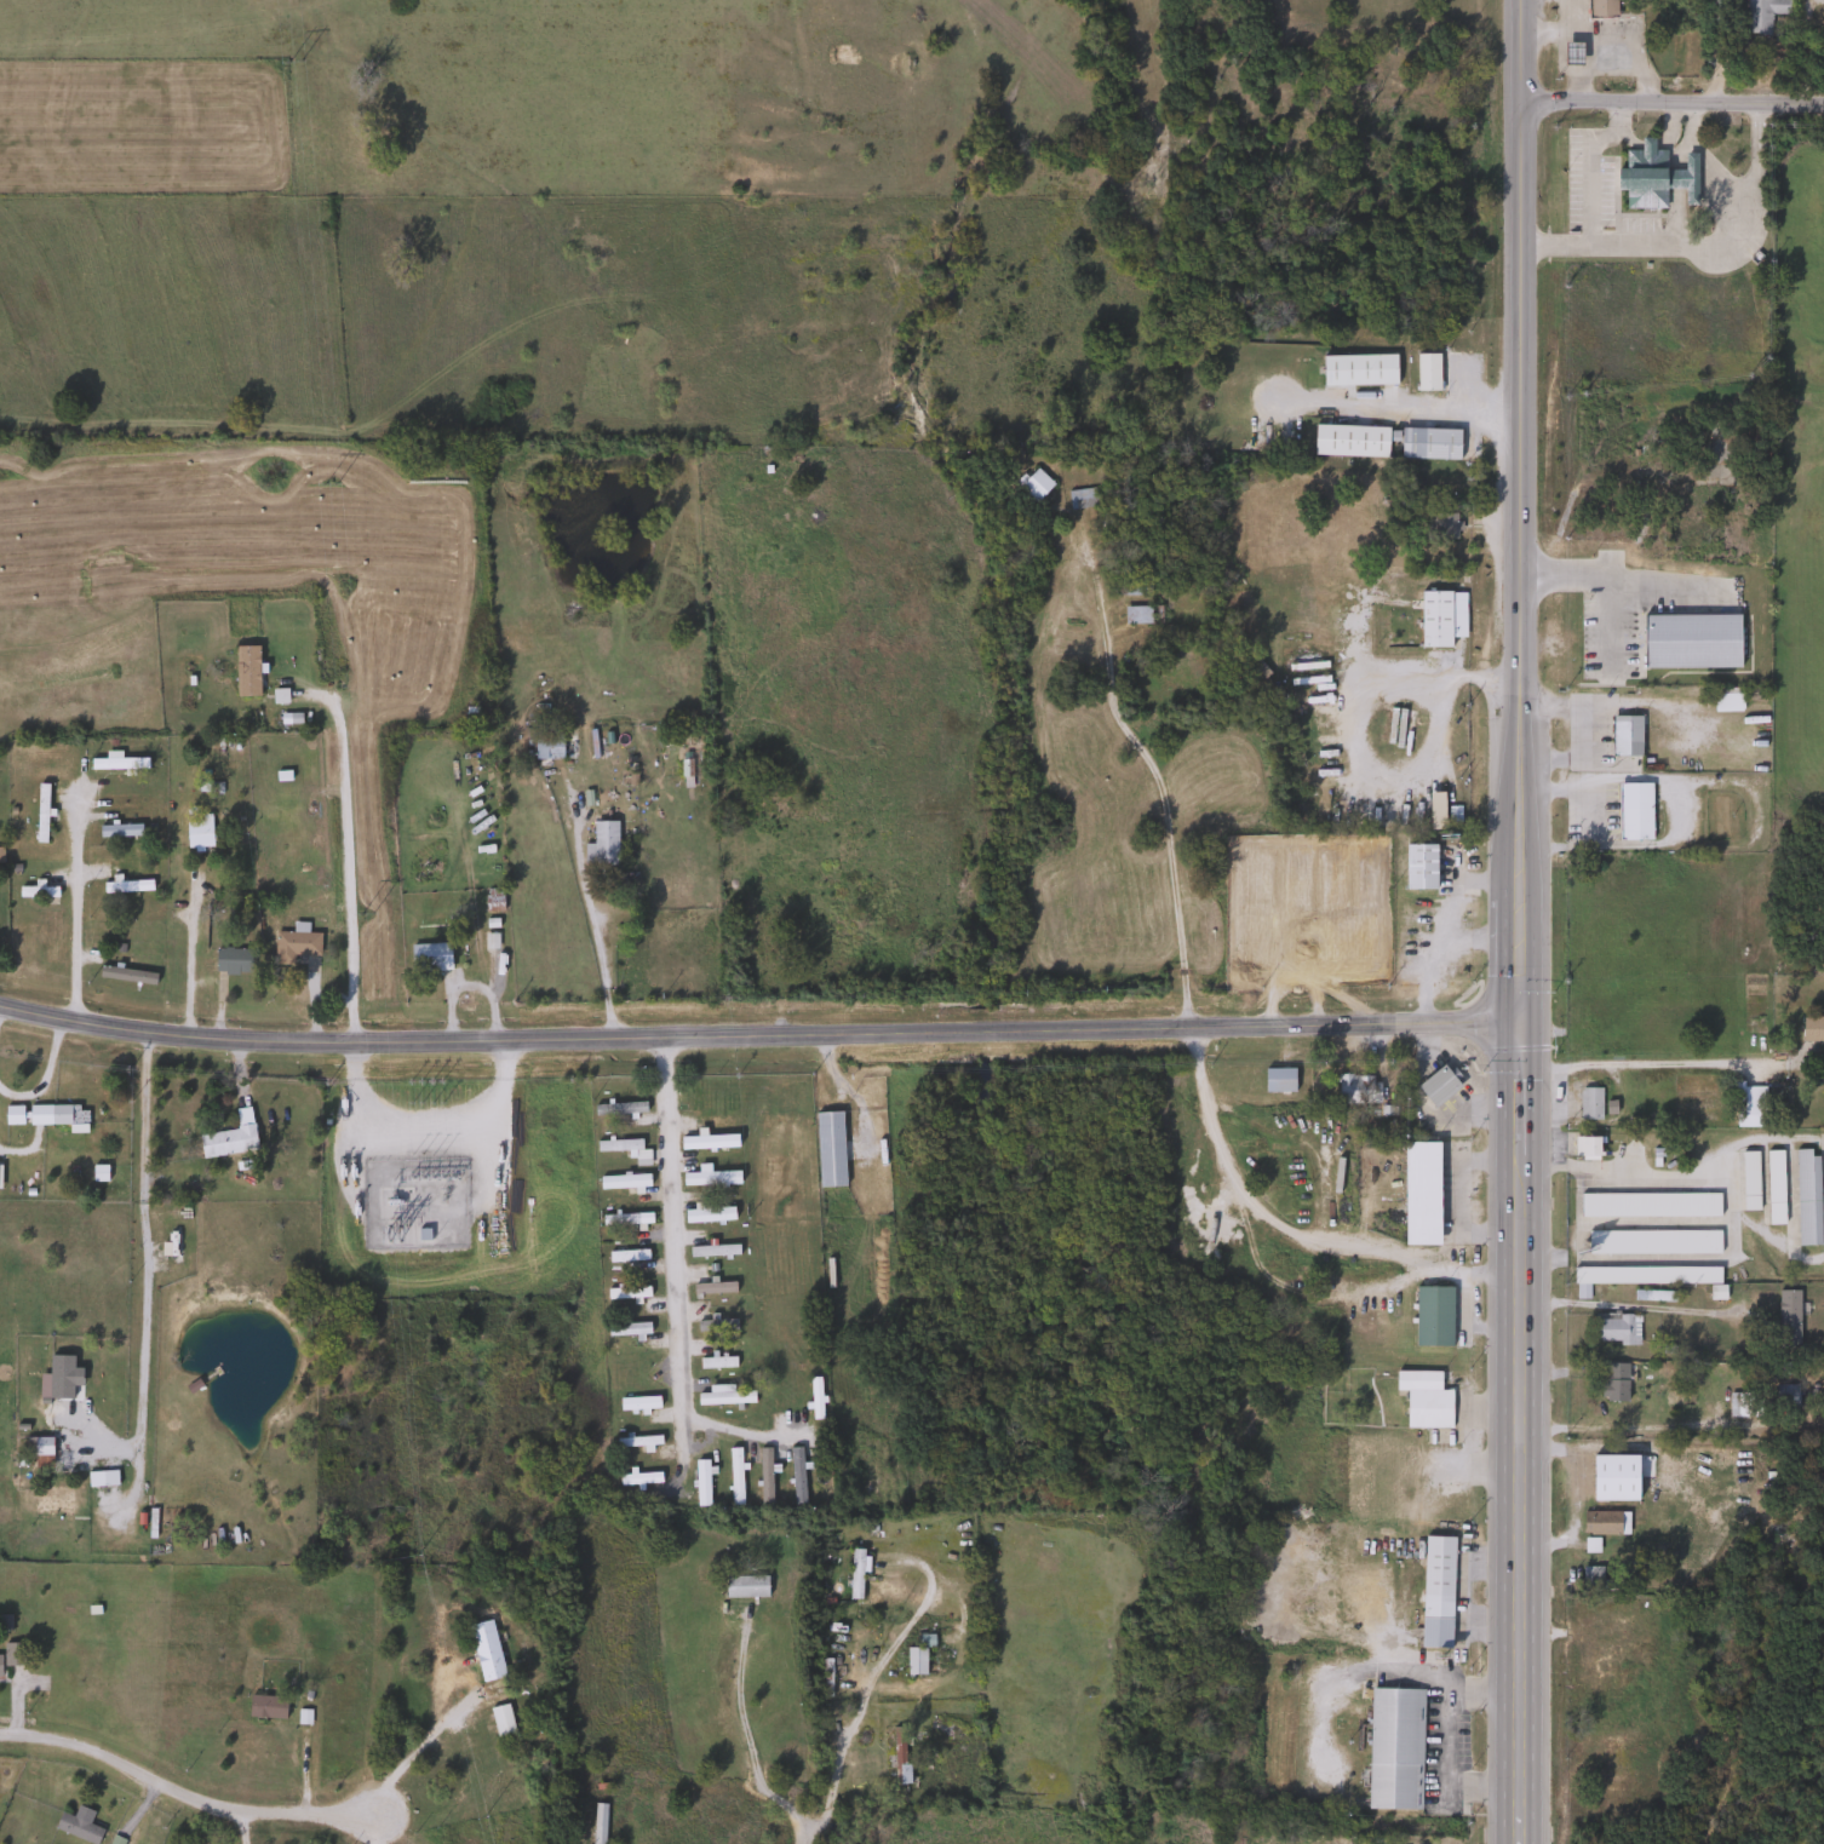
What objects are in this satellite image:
building: (1599, 7)
building: (1717, 13)
building: (1761, 13)
building: (1822, 18)
road: (1605, 35)
power tower: (294, 62)
road: (1591, 67)
road: (1671, 104)
road: (1704, 156)
road: (1587, 166)
building: (1651, 176)
road: (1697, 242)
building: (1356, 369)
building: (1424, 370)
road: (1396, 404)
building: (1348, 440)
road: (1520, 440)
building: (1427, 443)
building: (1723, 473)
building: (1032, 483)
power tower: (329, 484)
building: (1681, 496)
building: (1079, 498)
building: (1442, 524)
road: (1619, 580)
building: (1129, 585)
building: (1138, 614)
building: (1618, 614)
building: (1432, 619)
road: (1602, 624)
building: (245, 678)
building: (1725, 702)
road: (1352, 720)
building: (1623, 735)
building: (545, 743)
building: (114, 763)
road: (1151, 769)
building: (1633, 811)
building: (39, 812)
building: (195, 833)
building: (600, 844)
road: (344, 854)
building: (1418, 867)
building: (124, 886)
building: (34, 892)
road: (1518, 907)
road: (73, 910)
road: (586, 912)
power tower: (367, 914)
road: (1444, 925)
road: (1479, 936)
building: (1329, 937)
building: (292, 947)
road: (187, 955)
building: (428, 957)
building: (229, 960)
road: (314, 1004)
building: (1812, 1029)
road: (756, 1036)
road: (1424, 1050)
road: (1652, 1063)
road: (45, 1072)
building: (1275, 1080)
building: (1435, 1086)
road: (1435, 1087)
building: (1355, 1090)
road: (1518, 1098)
building: (1588, 1104)
building: (1746, 1107)
building: (619, 1108)
road: (1478, 1109)
building: (41, 1115)
building: (224, 1142)
building: (706, 1142)
road: (22, 1145)
building: (1584, 1147)
building: (624, 1149)
building: (827, 1149)
road: (1541, 1168)
road: (1682, 1171)
building: (707, 1178)
building: (1746, 1180)
building: (621, 1182)
power substation: (403, 1187)
building: (1772, 1188)
building: (1419, 1194)
road: (1456, 1196)
building: (1805, 1196)
building: (1646, 1206)
building: (705, 1214)
building: (624, 1219)
building: (420, 1233)
road: (1290, 1233)
power tower: (392, 1235)
building: (1656, 1242)
road: (670, 1251)
building: (710, 1251)
building: (625, 1257)
road: (1654, 1260)
road: (145, 1277)
building: (1635, 1282)
building: (711, 1288)
building: (624, 1293)
road: (1627, 1305)
building: (1430, 1317)
building: (1785, 1319)
building: (713, 1325)
road: (1464, 1327)
building: (625, 1329)
building: (1614, 1329)
building: (713, 1362)
building: (1612, 1384)
building: (1693, 1390)
building: (722, 1396)
building: (811, 1398)
building: (1422, 1400)
building: (1784, 1400)
building: (636, 1403)
building: (1740, 1404)
road: (735, 1431)
building: (635, 1441)
building: (39, 1454)
building: (1593, 1461)
building: (1629, 1469)
building: (795, 1476)
building: (732, 1477)
building: (762, 1477)
building: (99, 1478)
building: (637, 1478)
building: (699, 1483)
building: (48, 1503)
building: (1602, 1523)
road: (1521, 1552)
power tower: (419, 1557)
building: (854, 1574)
building: (1584, 1575)
building: (742, 1587)
building: (1434, 1591)
road: (908, 1624)
building: (482, 1649)
building: (10, 1654)
building: (1600, 1655)
building: (912, 1661)
building: (824, 1677)
building: (264, 1706)
building: (499, 1721)
road: (744, 1729)
road: (1441, 1737)
building: (1392, 1748)
road: (409, 1756)
building: (897, 1756)
road: (833, 1771)
road: (180, 1792)
power tower: (484, 1819)
building: (596, 1823)
road: (239, 1825)
building: (75, 1827)
road: (371, 1829)
road: (799, 1837)

